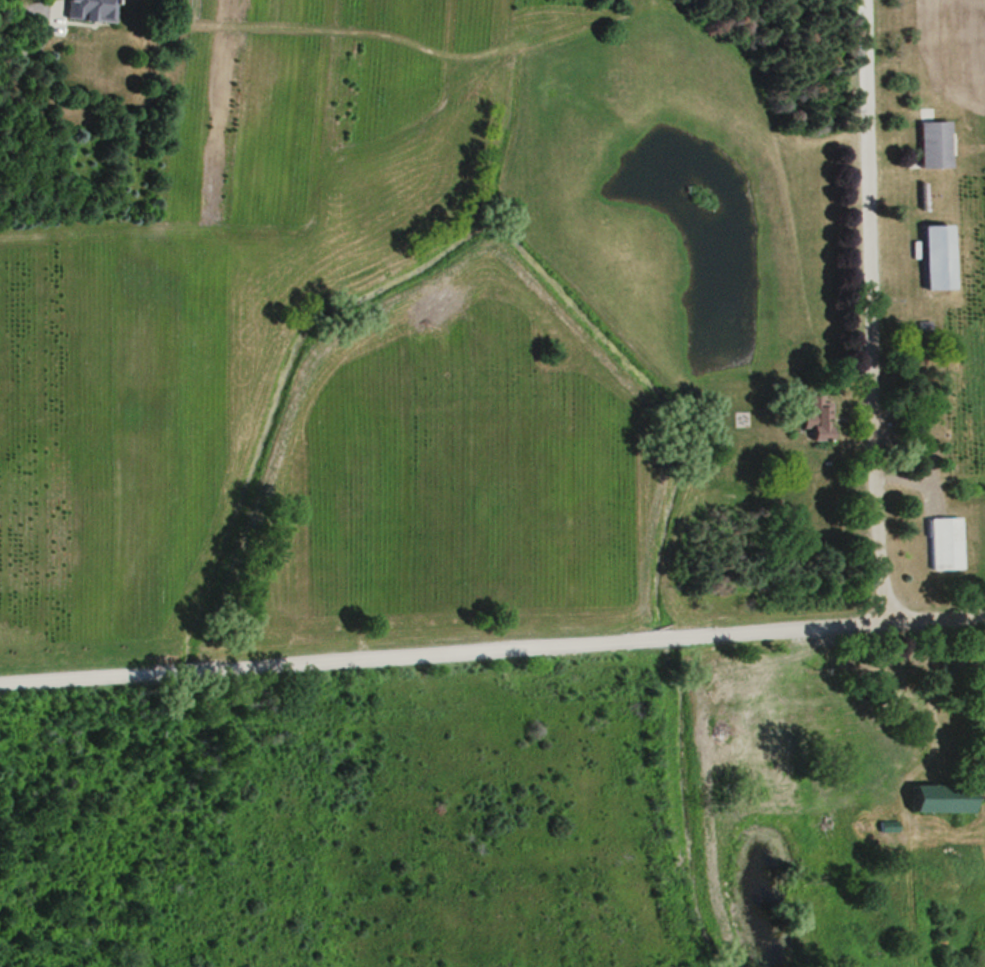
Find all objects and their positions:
building: (91, 11)
building: (936, 142)
building: (941, 256)
road: (872, 310)
building: (822, 421)
building: (947, 543)
road: (492, 642)
building: (946, 797)

